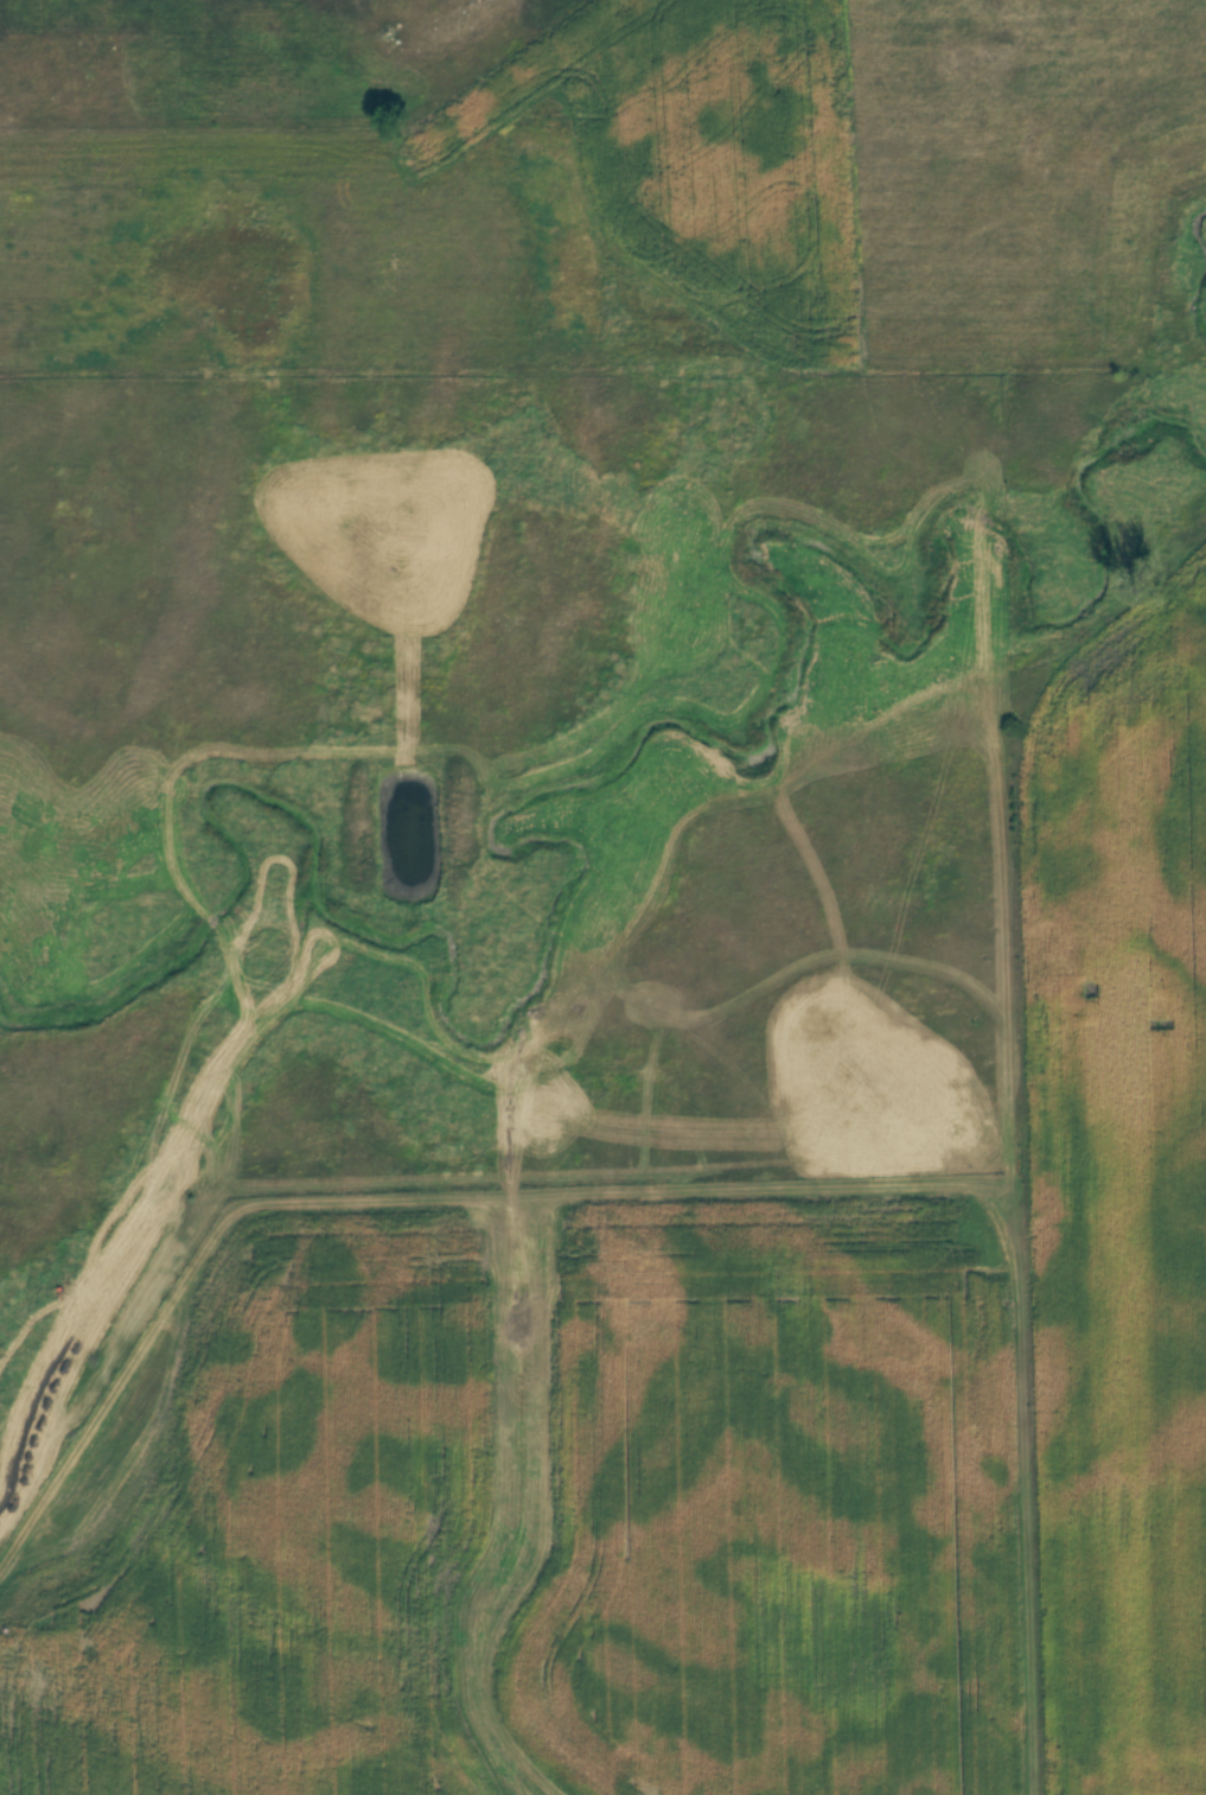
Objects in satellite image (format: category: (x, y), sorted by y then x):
building: (985, 1595)

